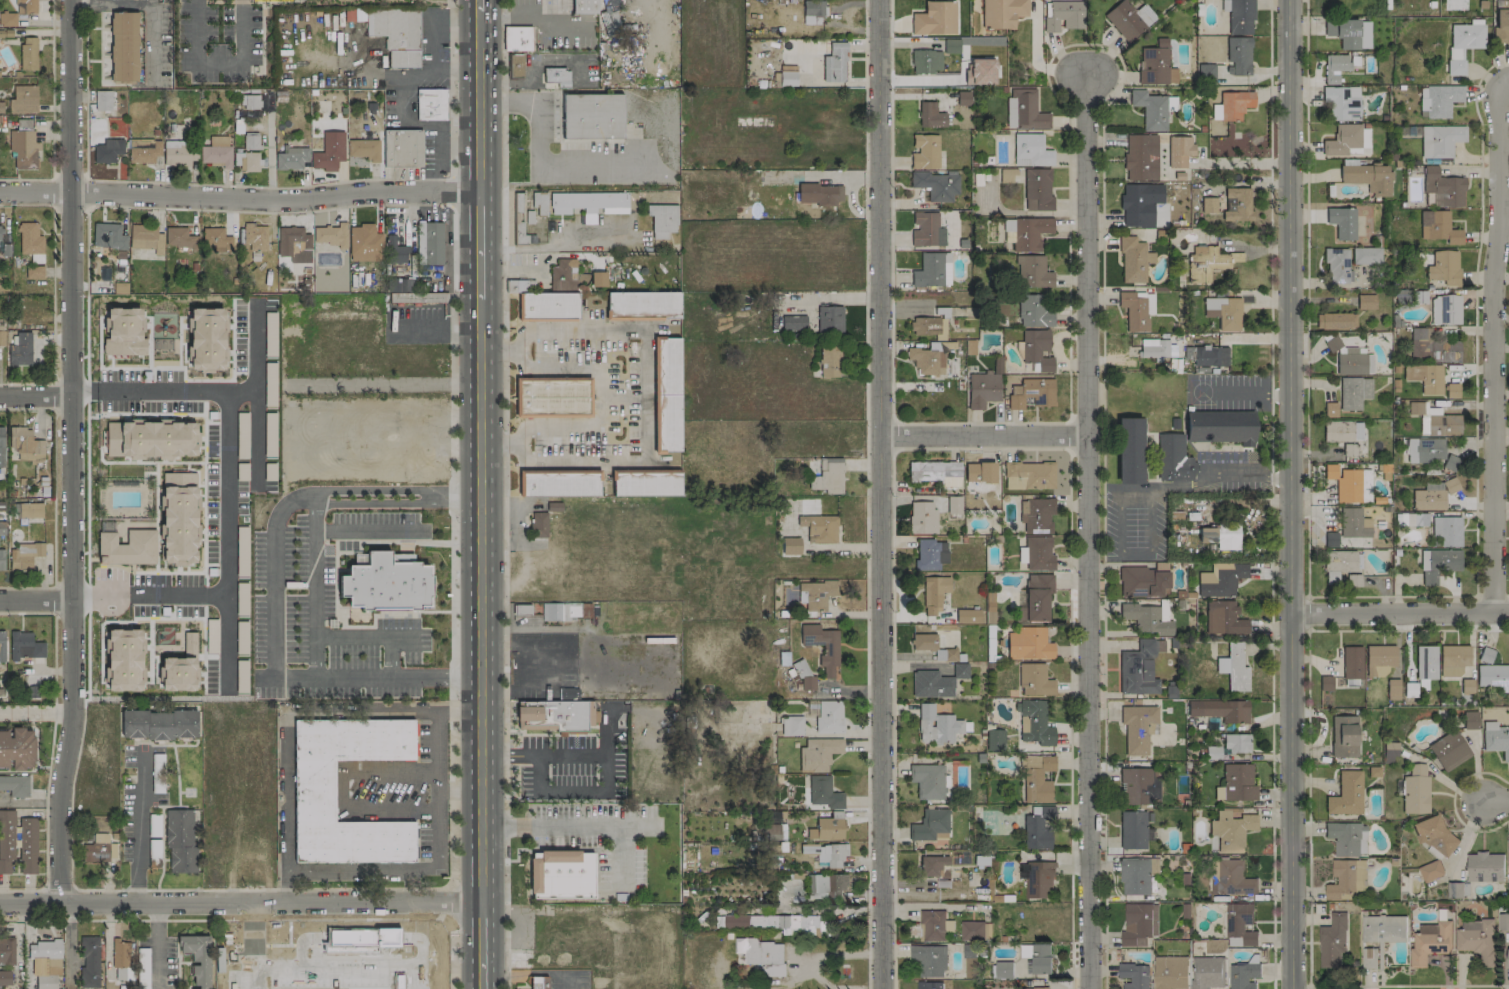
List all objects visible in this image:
road: (479, 5)
building: (26, 6)
building: (584, 6)
building: (813, 7)
building: (1002, 12)
building: (1064, 16)
building: (1239, 16)
building: (935, 18)
building: (7, 19)
building: (1129, 19)
building: (1501, 21)
road: (240, 29)
building: (1349, 32)
building: (396, 33)
building: (516, 37)
building: (1463, 43)
road: (1071, 44)
building: (952, 45)
building: (123, 46)
building: (28, 53)
building: (1239, 54)
building: (804, 59)
building: (926, 61)
building: (835, 62)
building: (515, 64)
building: (1156, 64)
building: (1335, 67)
building: (982, 71)
building: (1206, 72)
building: (556, 75)
building: (787, 78)
road: (1502, 81)
building: (963, 98)
building: (23, 99)
building: (1438, 100)
building: (250, 101)
road: (479, 101)
building: (1342, 102)
building: (430, 103)
building: (102, 105)
building: (1232, 105)
building: (1153, 108)
building: (1025, 110)
road: (51, 114)
building: (592, 115)
building: (931, 115)
building: (251, 140)
building: (1348, 140)
building: (1440, 140)
building: (401, 147)
building: (364, 149)
building: (23, 150)
building: (108, 150)
building: (143, 150)
building: (176, 150)
building: (1031, 150)
building: (1179, 150)
building: (217, 151)
building: (329, 151)
building: (924, 151)
building: (291, 157)
building: (1141, 157)
building: (247, 161)
road: (540, 162)
building: (1005, 175)
building: (1368, 177)
building: (936, 185)
road: (267, 186)
building: (1443, 188)
building: (1037, 189)
road: (56, 192)
building: (819, 193)
road: (240, 198)
building: (589, 202)
building: (540, 203)
building: (1237, 204)
building: (1208, 205)
building: (1136, 206)
building: (662, 220)
building: (1342, 222)
building: (1438, 227)
building: (926, 230)
building: (0, 232)
building: (1030, 232)
building: (331, 235)
building: (109, 236)
building: (255, 236)
building: (30, 238)
building: (147, 238)
building: (180, 238)
building: (216, 239)
building: (428, 242)
building: (365, 243)
building: (294, 244)
road: (561, 244)
road: (480, 245)
building: (396, 251)
building: (1366, 255)
building: (37, 258)
building: (1134, 259)
building: (1208, 262)
building: (1337, 264)
building: (1444, 266)
building: (929, 270)
building: (34, 271)
building: (1033, 271)
road: (52, 293)
building: (416, 297)
road: (1307, 297)
building: (1366, 301)
building: (643, 304)
building: (550, 305)
building: (1137, 309)
building: (1445, 309)
building: (1033, 311)
building: (1224, 312)
building: (829, 319)
building: (1336, 320)
building: (793, 322)
building: (925, 325)
building: (942, 329)
road: (433, 330)
building: (123, 332)
building: (1, 334)
building: (205, 339)
building: (1432, 346)
road: (1495, 347)
building: (1156, 348)
building: (1036, 349)
building: (21, 350)
building: (1188, 352)
building: (1210, 356)
building: (927, 359)
building: (830, 361)
building: (1354, 362)
road: (257, 365)
building: (1425, 377)
road: (1474, 377)
building: (983, 389)
building: (1452, 390)
building: (1354, 392)
building: (667, 393)
building: (1032, 393)
road: (1242, 394)
building: (552, 395)
road: (601, 395)
road: (36, 396)
road: (480, 397)
road: (644, 397)
building: (1330, 409)
building: (1435, 420)
building: (1220, 426)
road: (982, 435)
building: (150, 439)
road: (256, 441)
building: (26, 444)
building: (2, 447)
road: (981, 448)
building: (1425, 449)
building: (1129, 450)
road: (72, 452)
building: (1173, 458)
building: (1452, 462)
road: (226, 465)
building: (985, 471)
building: (971, 473)
building: (1029, 475)
road: (1205, 478)
building: (645, 482)
building: (1345, 482)
building: (561, 484)
road: (375, 490)
road: (504, 492)
road: (1161, 492)
road: (867, 494)
road: (879, 494)
road: (1272, 494)
road: (1291, 494)
building: (1431, 496)
road: (458, 497)
road: (375, 503)
building: (30, 509)
building: (928, 513)
building: (1036, 515)
building: (178, 517)
building: (1411, 519)
building: (539, 524)
building: (1355, 525)
building: (2, 527)
building: (819, 528)
road: (1086, 529)
building: (1447, 530)
building: (1220, 535)
road: (480, 538)
building: (1330, 539)
building: (791, 545)
building: (127, 547)
building: (1037, 553)
road: (1132, 553)
building: (930, 554)
building: (25, 555)
building: (241, 556)
building: (2, 559)
building: (1438, 563)
building: (1340, 564)
building: (1221, 579)
building: (1144, 580)
building: (1353, 580)
building: (386, 583)
road: (315, 586)
building: (934, 593)
road: (149, 594)
building: (816, 594)
road: (1329, 595)
building: (1036, 598)
road: (36, 600)
building: (552, 611)
building: (1163, 611)
road: (1308, 612)
road: (1400, 614)
building: (968, 616)
building: (1145, 618)
building: (1224, 618)
road: (450, 630)
road: (1335, 630)
road: (1435, 630)
road: (364, 636)
building: (1029, 643)
building: (25, 645)
building: (2, 646)
building: (823, 646)
building: (932, 646)
road: (522, 647)
building: (1486, 654)
building: (1380, 659)
building: (123, 660)
building: (1453, 660)
road: (621, 661)
building: (1352, 662)
building: (1426, 662)
building: (180, 667)
building: (1139, 667)
building: (1234, 667)
building: (960, 670)
road: (279, 672)
building: (1492, 675)
building: (1035, 680)
building: (808, 683)
building: (1326, 683)
road: (531, 684)
building: (931, 684)
building: (1467, 685)
building: (1393, 689)
building: (568, 693)
building: (1220, 709)
road: (36, 710)
building: (552, 715)
building: (829, 717)
building: (1470, 720)
building: (1035, 723)
building: (159, 724)
building: (792, 725)
building: (936, 725)
building: (1137, 727)
building: (1344, 736)
building: (1495, 738)
building: (995, 739)
road: (481, 740)
building: (1236, 742)
building: (17, 748)
road: (438, 748)
building: (1390, 748)
building: (1449, 750)
building: (818, 754)
road: (543, 755)
building: (1037, 777)
building: (928, 780)
building: (1238, 782)
building: (15, 785)
road: (341, 786)
building: (1139, 786)
building: (1415, 789)
building: (314, 790)
road: (602, 790)
building: (824, 792)
building: (1346, 794)
road: (1494, 799)
road: (1452, 801)
road: (1309, 807)
road: (551, 824)
road: (638, 824)
building: (930, 825)
building: (1038, 827)
building: (827, 829)
building: (1133, 829)
road: (287, 830)
building: (1231, 830)
building: (776, 831)
road: (136, 833)
building: (1435, 836)
building: (1347, 838)
building: (6, 840)
building: (180, 840)
building: (28, 845)
building: (97, 847)
road: (543, 848)
road: (620, 853)
building: (827, 853)
building: (1507, 853)
building: (932, 864)
building: (1485, 867)
building: (1431, 871)
building: (561, 874)
building: (1507, 874)
building: (1137, 875)
building: (1038, 878)
building: (1233, 878)
building: (1346, 880)
road: (409, 885)
building: (826, 885)
road: (287, 886)
building: (1458, 890)
road: (453, 902)
road: (240, 903)
road: (258, 918)
building: (1503, 921)
building: (1240, 922)
building: (775, 923)
building: (1139, 924)
building: (934, 925)
building: (1383, 928)
building: (972, 930)
road: (361, 936)
building: (357, 937)
building: (1477, 939)
building: (1332, 941)
building: (1430, 942)
road: (482, 945)
road: (155, 946)
road: (253, 946)
building: (7, 951)
building: (120, 953)
building: (762, 954)
building: (1037, 958)
building: (1369, 958)
building: (1508, 958)
building: (90, 959)
building: (197, 959)
building: (928, 960)
building: (47, 962)
road: (335, 964)
building: (1003, 970)
building: (1170, 972)
building: (1206, 972)
building: (1244, 975)
building: (1134, 976)
building: (5, 977)
road: (416, 977)
building: (539, 982)
road: (1409, 984)
road: (1310, 986)
building: (1034, 988)

